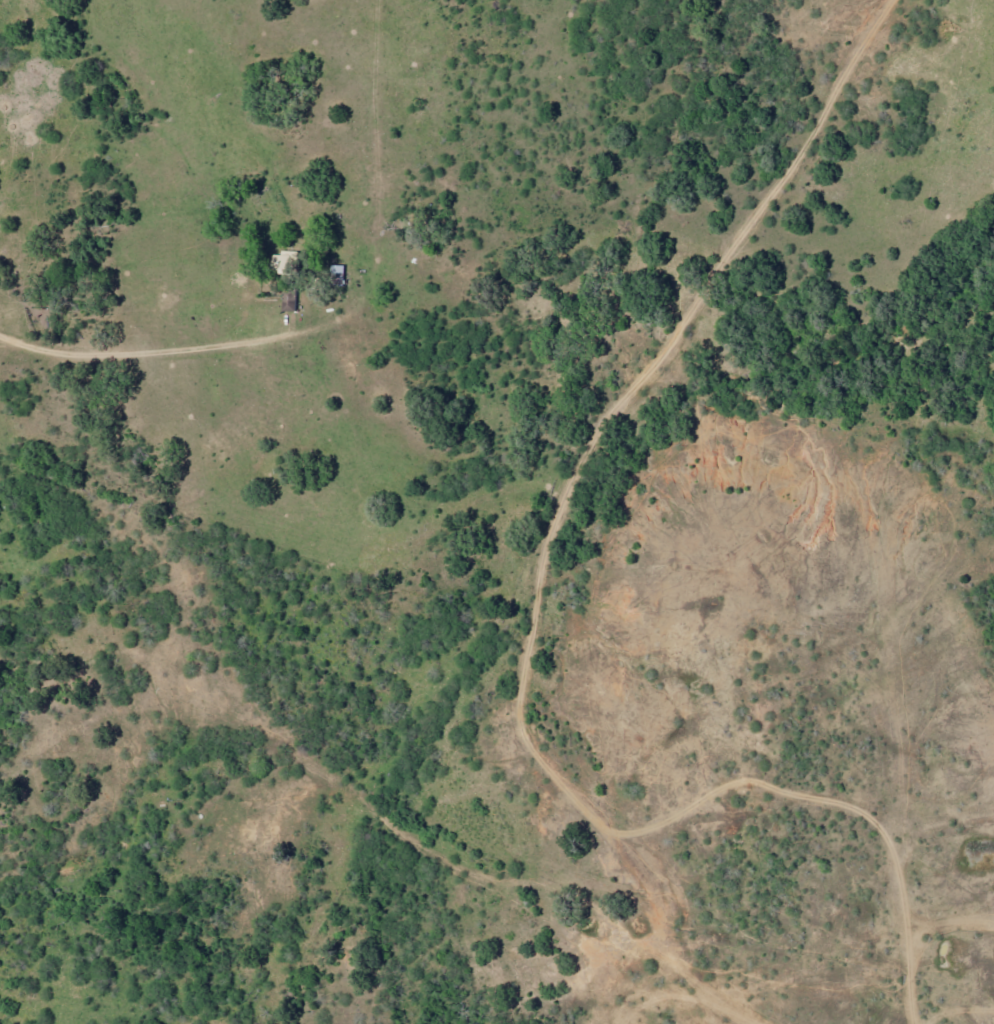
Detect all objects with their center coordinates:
road: (258, 341)
road: (954, 669)
road: (921, 729)

